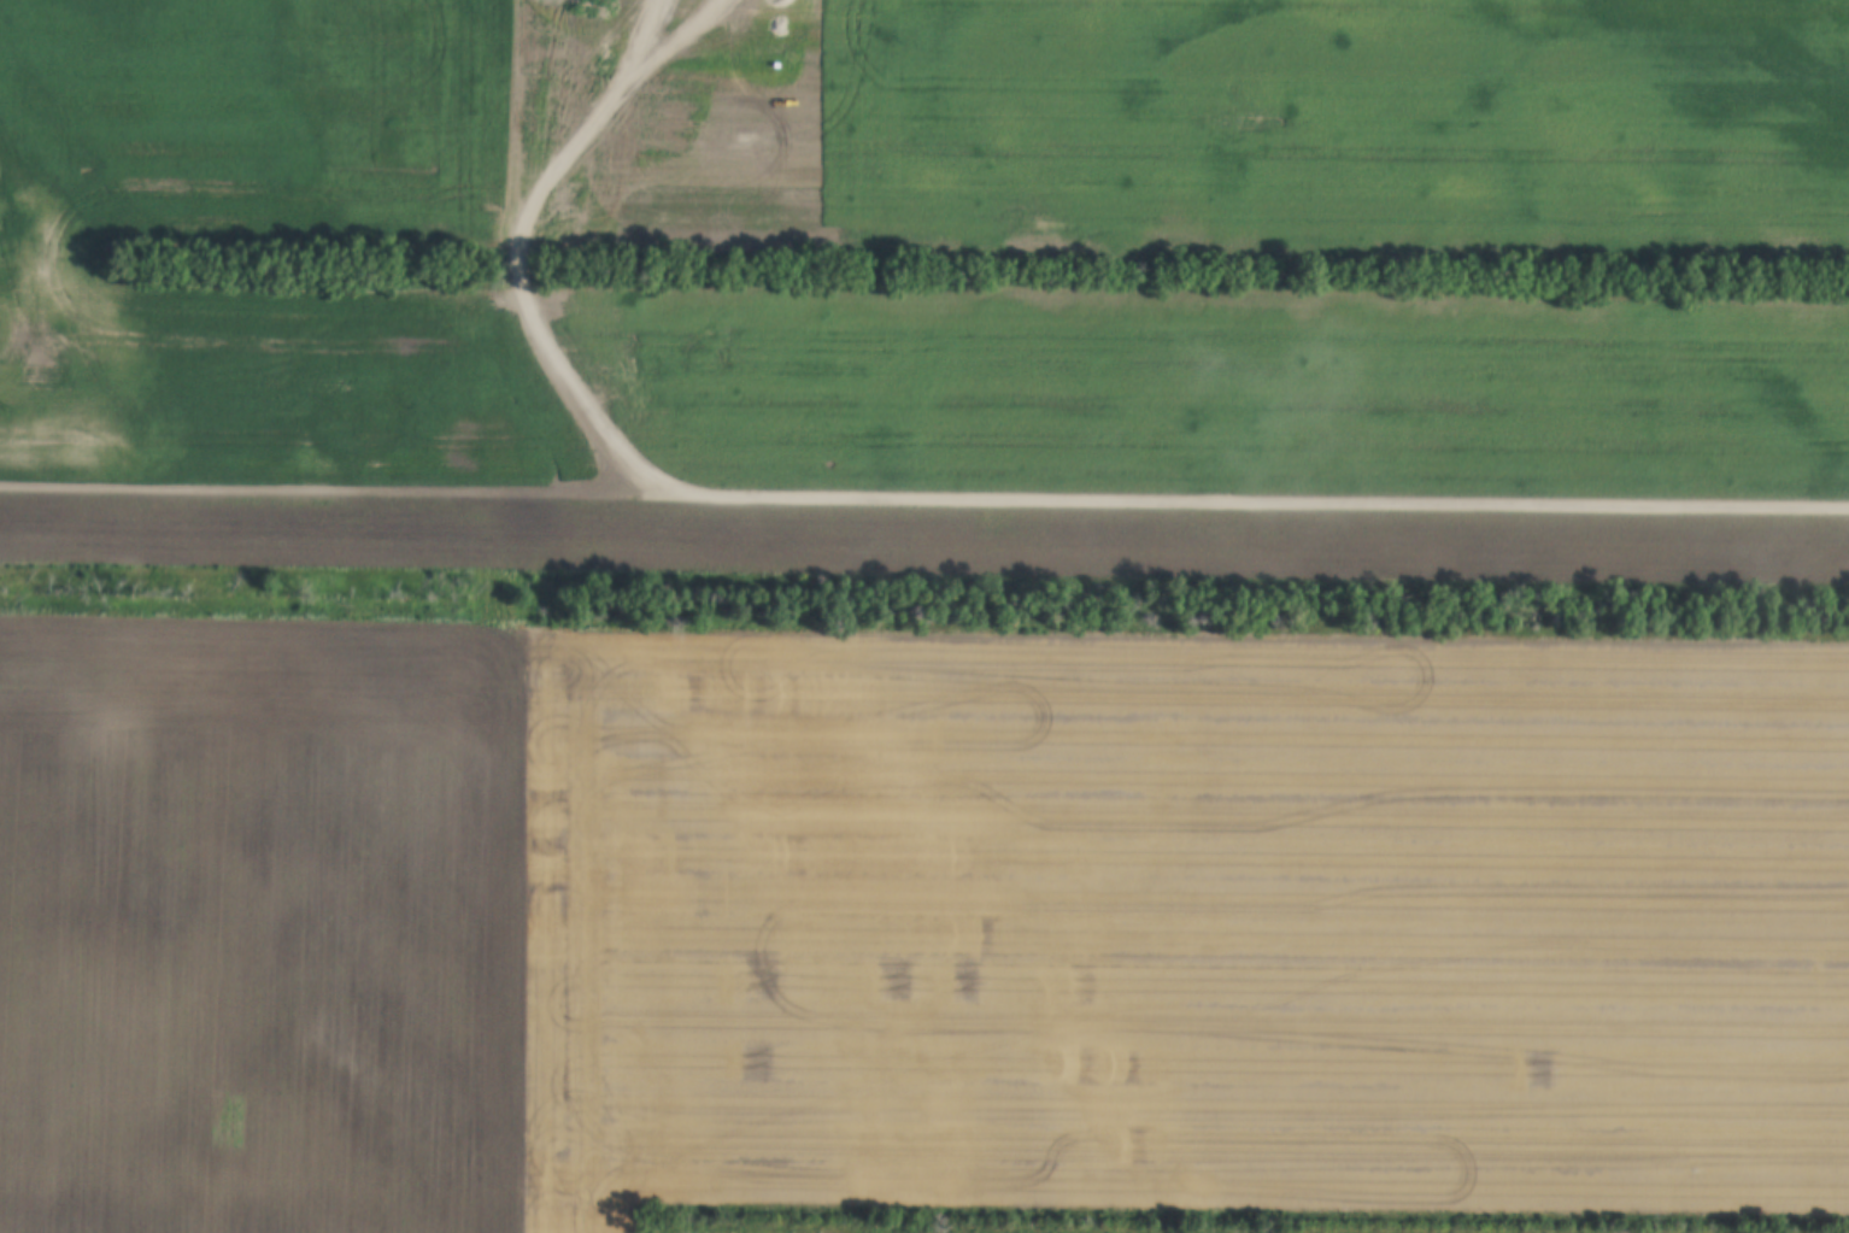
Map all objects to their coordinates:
quarry: (222, 366)
road: (924, 498)

